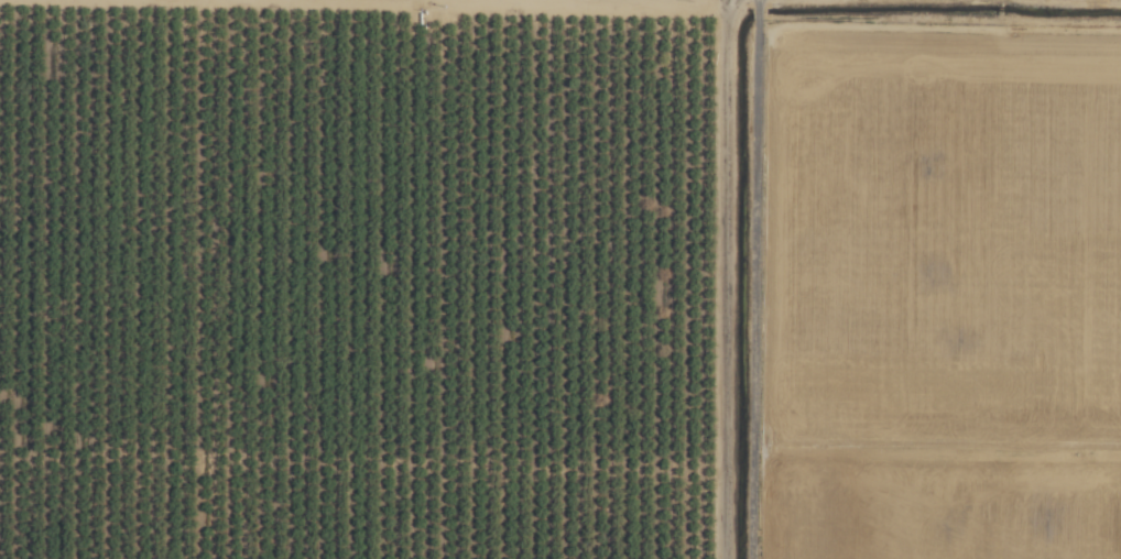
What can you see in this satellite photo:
road: (725, 279)
road: (754, 279)

